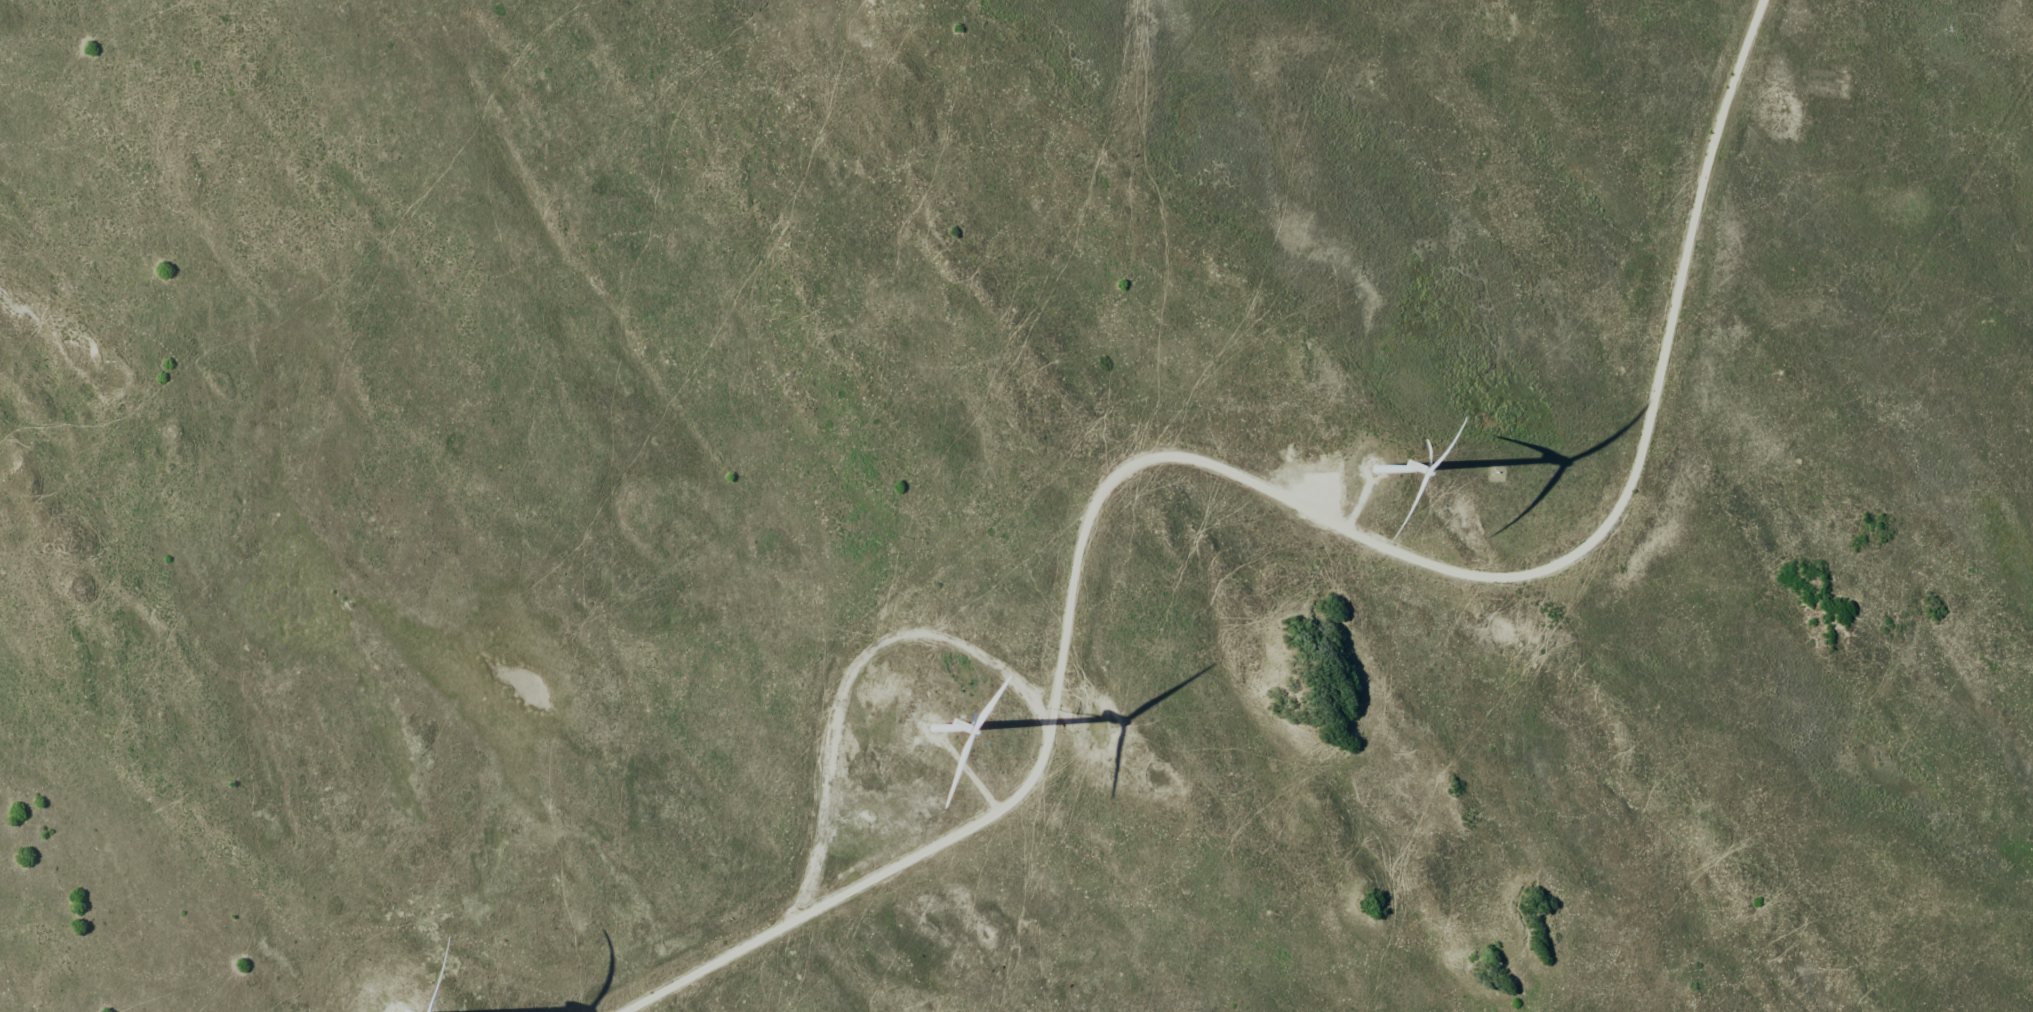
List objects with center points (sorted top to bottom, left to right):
wind turbine: (1379, 471)
wind turbine: (939, 727)

